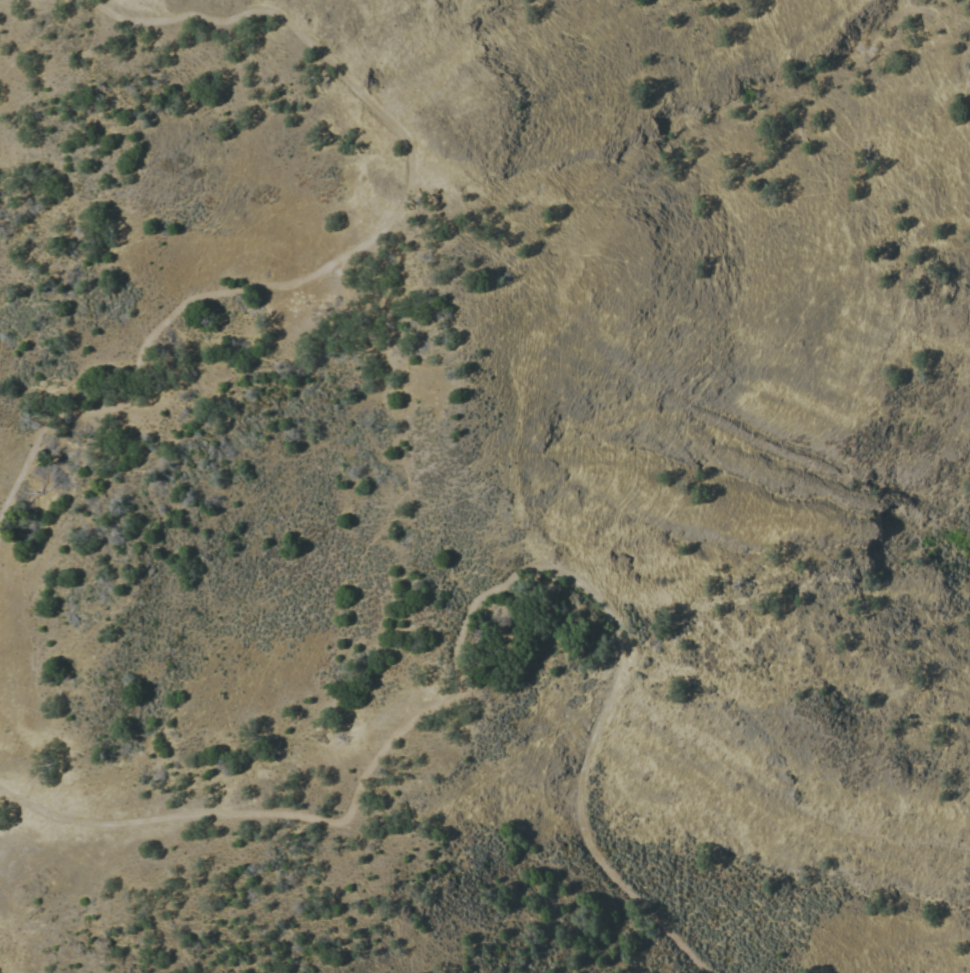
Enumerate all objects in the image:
road: (368, 236)
road: (463, 619)

